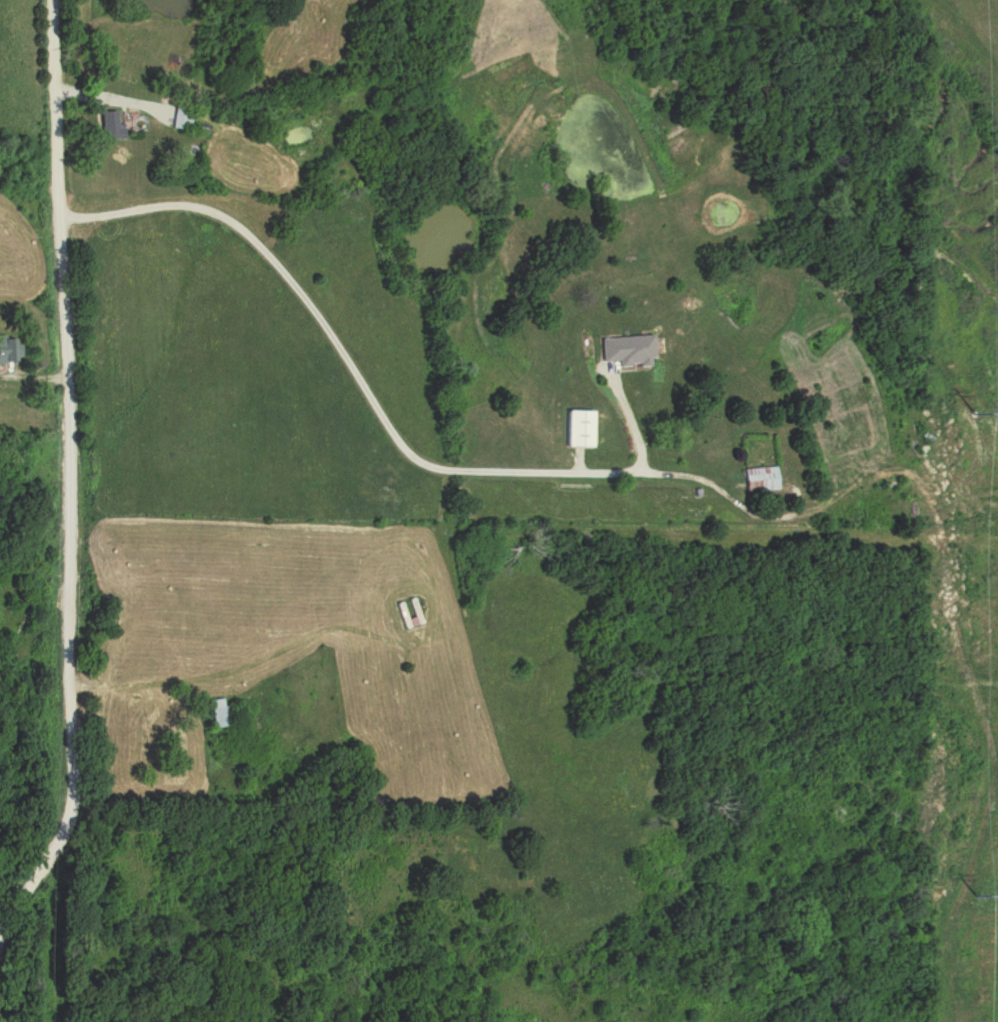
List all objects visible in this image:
road: (105, 100)
building: (180, 119)
building: (109, 126)
building: (3, 347)
building: (626, 350)
road: (360, 381)
power tower: (980, 410)
building: (577, 428)
road: (68, 478)
building: (757, 478)
building: (218, 714)
power tower: (982, 896)

